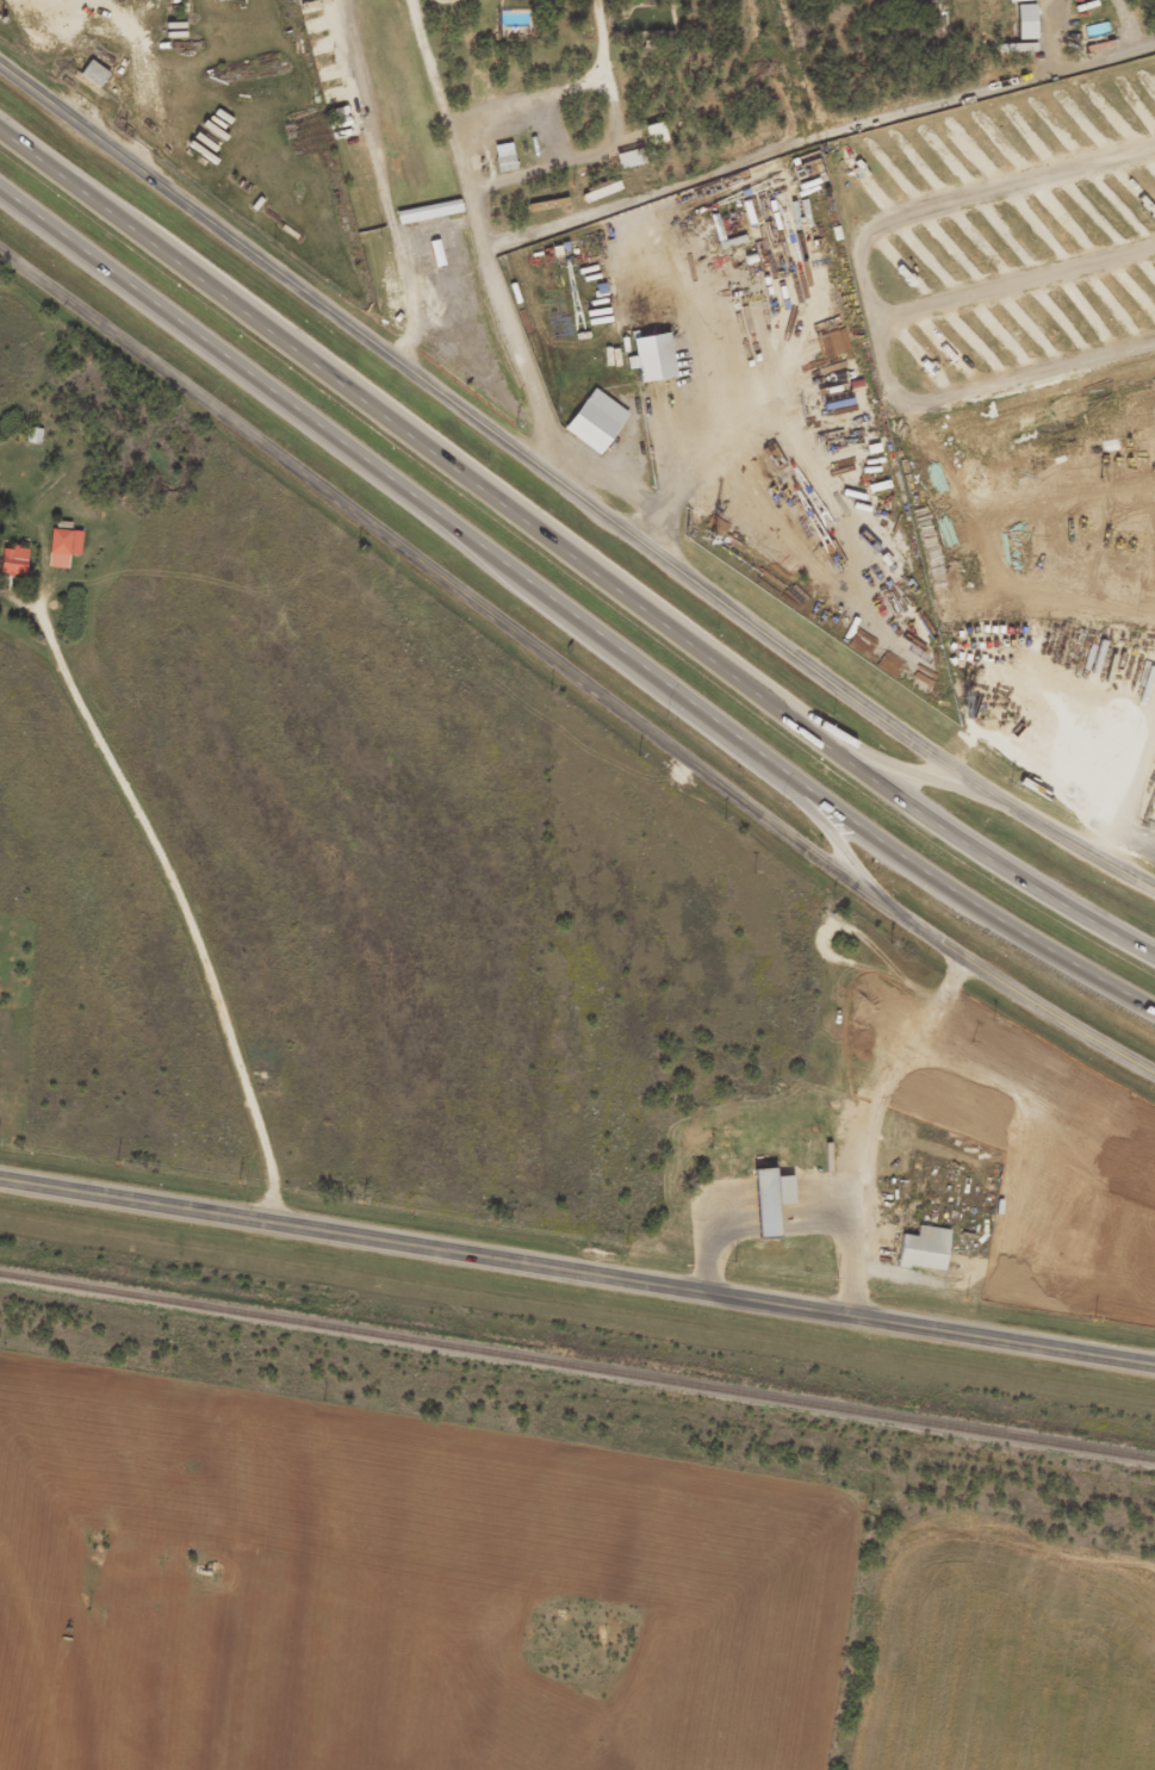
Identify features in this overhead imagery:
building: (1023, 29)
building: (513, 30)
building: (91, 82)
road: (439, 94)
road: (529, 97)
road: (609, 143)
road: (818, 145)
building: (501, 164)
building: (626, 166)
road: (380, 178)
building: (430, 209)
building: (426, 219)
road: (1014, 280)
road: (868, 296)
road: (509, 325)
building: (653, 355)
building: (597, 420)
road: (495, 428)
building: (61, 554)
road: (569, 565)
road: (436, 566)
building: (11, 567)
road: (566, 625)
road: (887, 770)
road: (820, 832)
road: (1070, 845)
road: (180, 908)
road: (1007, 987)
building: (765, 1209)
building: (920, 1256)
road: (577, 1269)
railway: (577, 1366)

